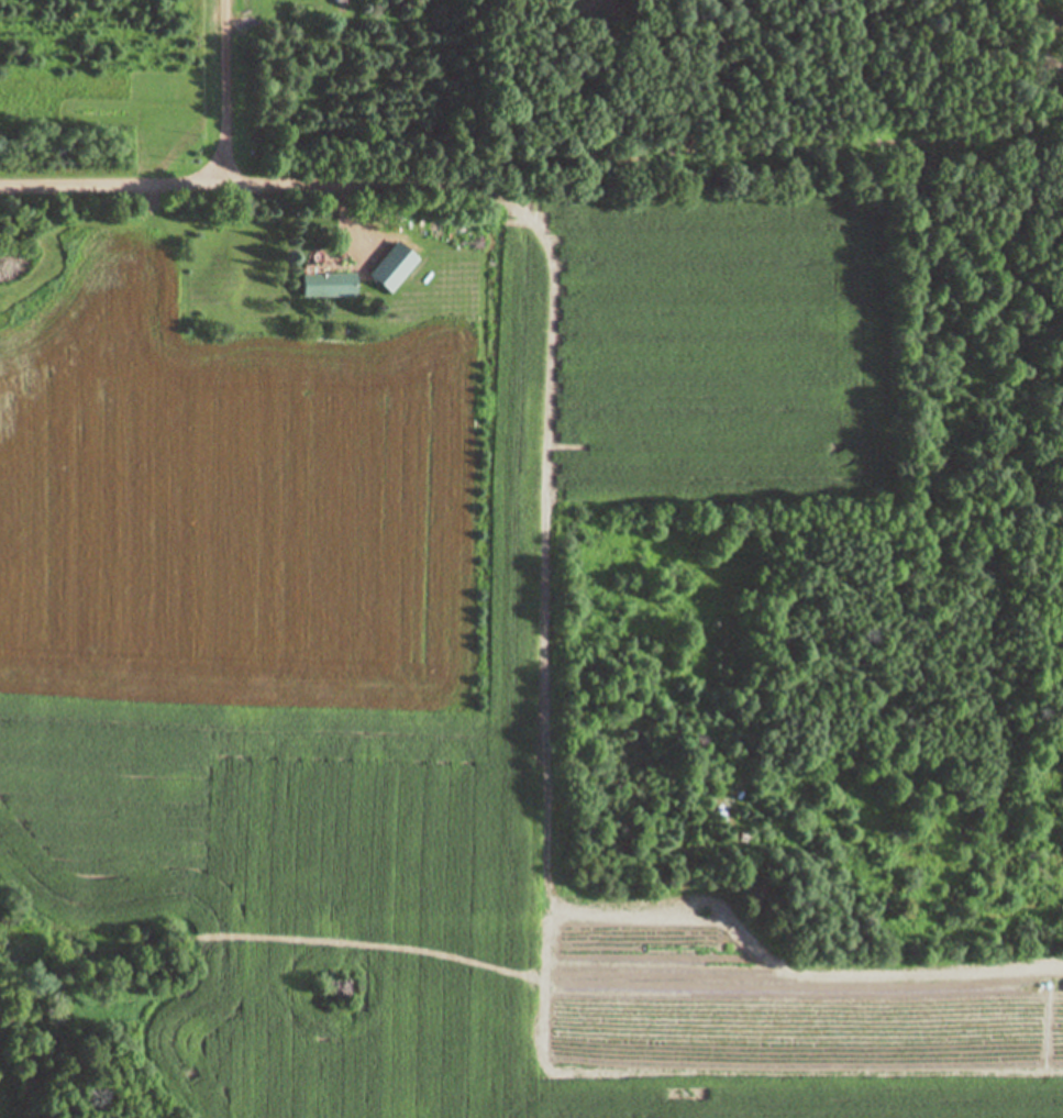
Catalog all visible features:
road: (246, 182)
building: (391, 269)
building: (325, 287)

